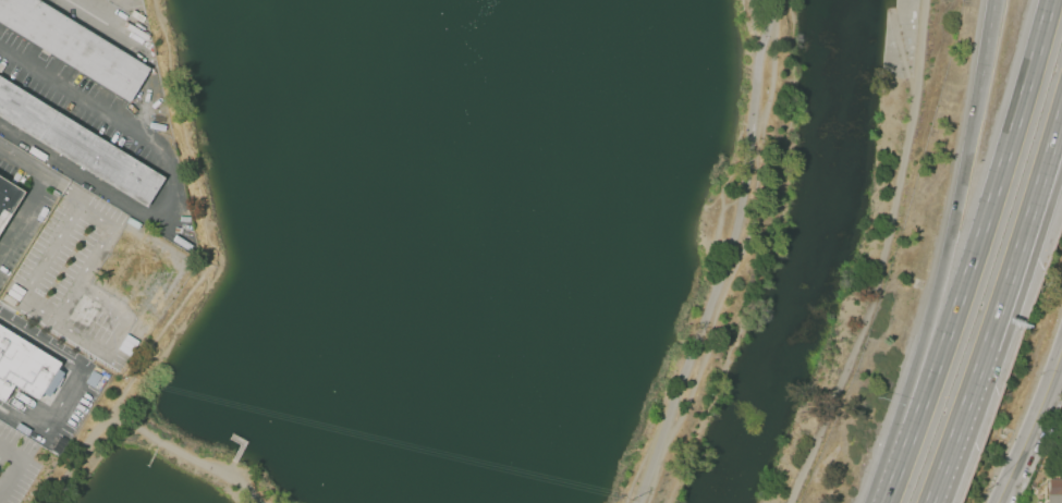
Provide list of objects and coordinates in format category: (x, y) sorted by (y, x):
road: (98, 19)
building: (76, 46)
road: (986, 46)
road: (902, 51)
road: (1054, 133)
road: (186, 140)
building: (78, 146)
road: (1054, 152)
road: (40, 170)
road: (168, 181)
building: (9, 203)
road: (23, 211)
road: (981, 228)
park: (520, 248)
road: (1015, 253)
road: (724, 256)
road: (884, 258)
road: (940, 273)
road: (46, 316)
road: (155, 346)
building: (25, 368)
road: (1057, 369)
road: (71, 383)
road: (1028, 422)
road: (957, 425)
road: (138, 430)
road: (1039, 446)
pier: (240, 452)
road: (16, 466)
road: (231, 467)
road: (892, 477)
building: (1053, 490)

